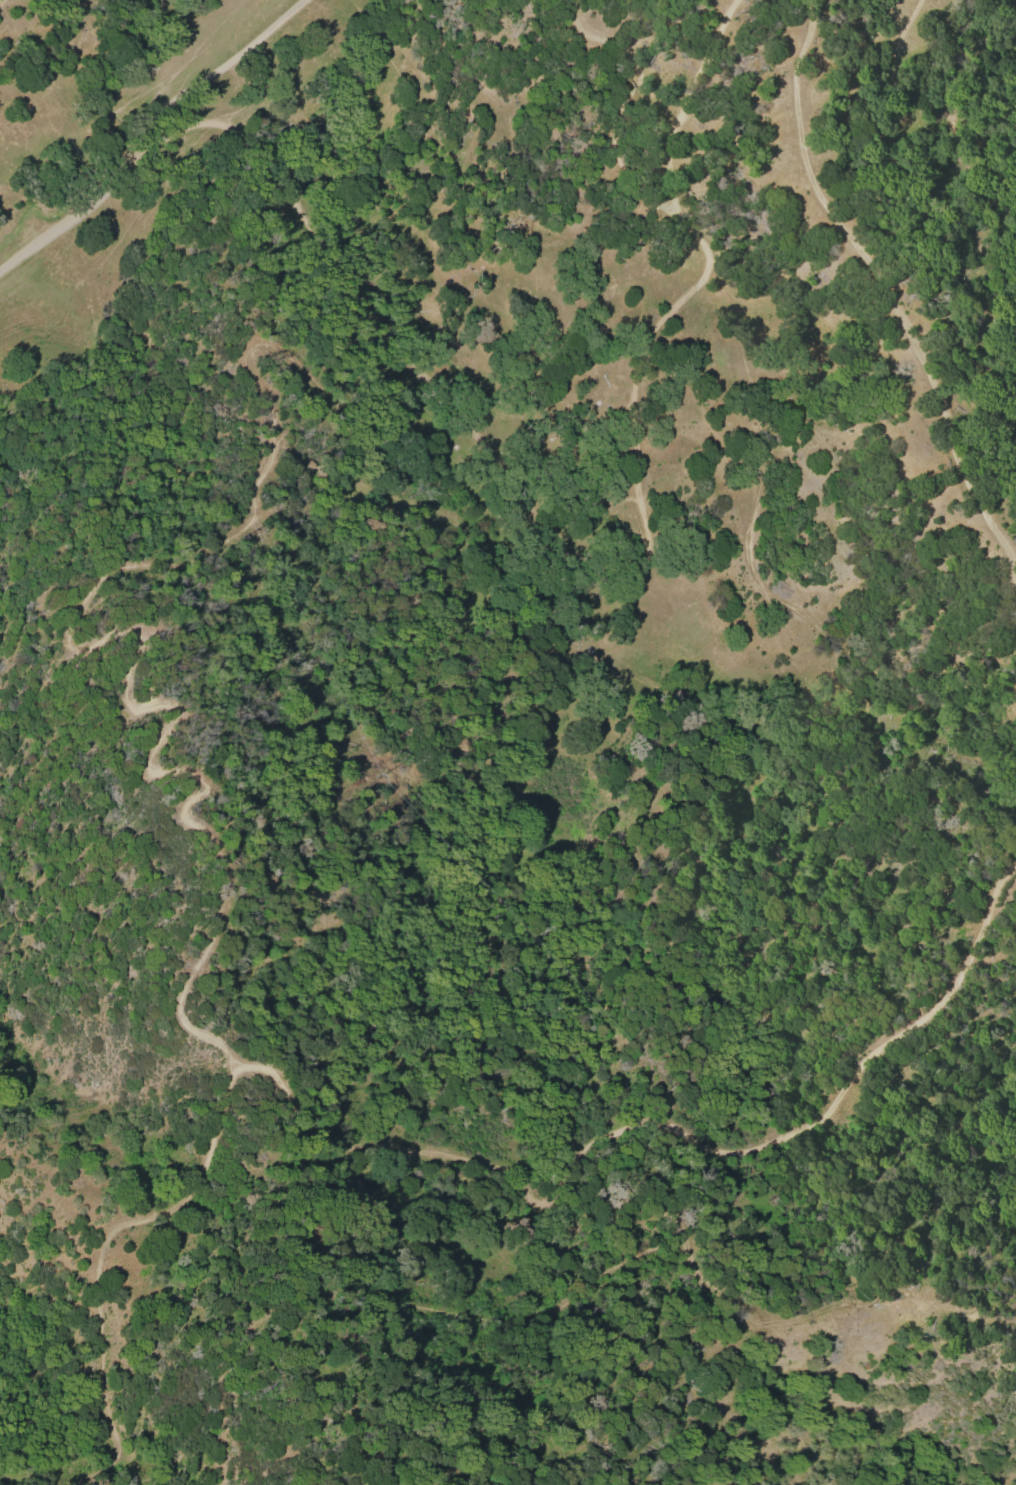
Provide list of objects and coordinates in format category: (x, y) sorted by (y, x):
road: (226, 894)
road: (853, 1068)
road: (529, 1154)
road: (170, 1214)

